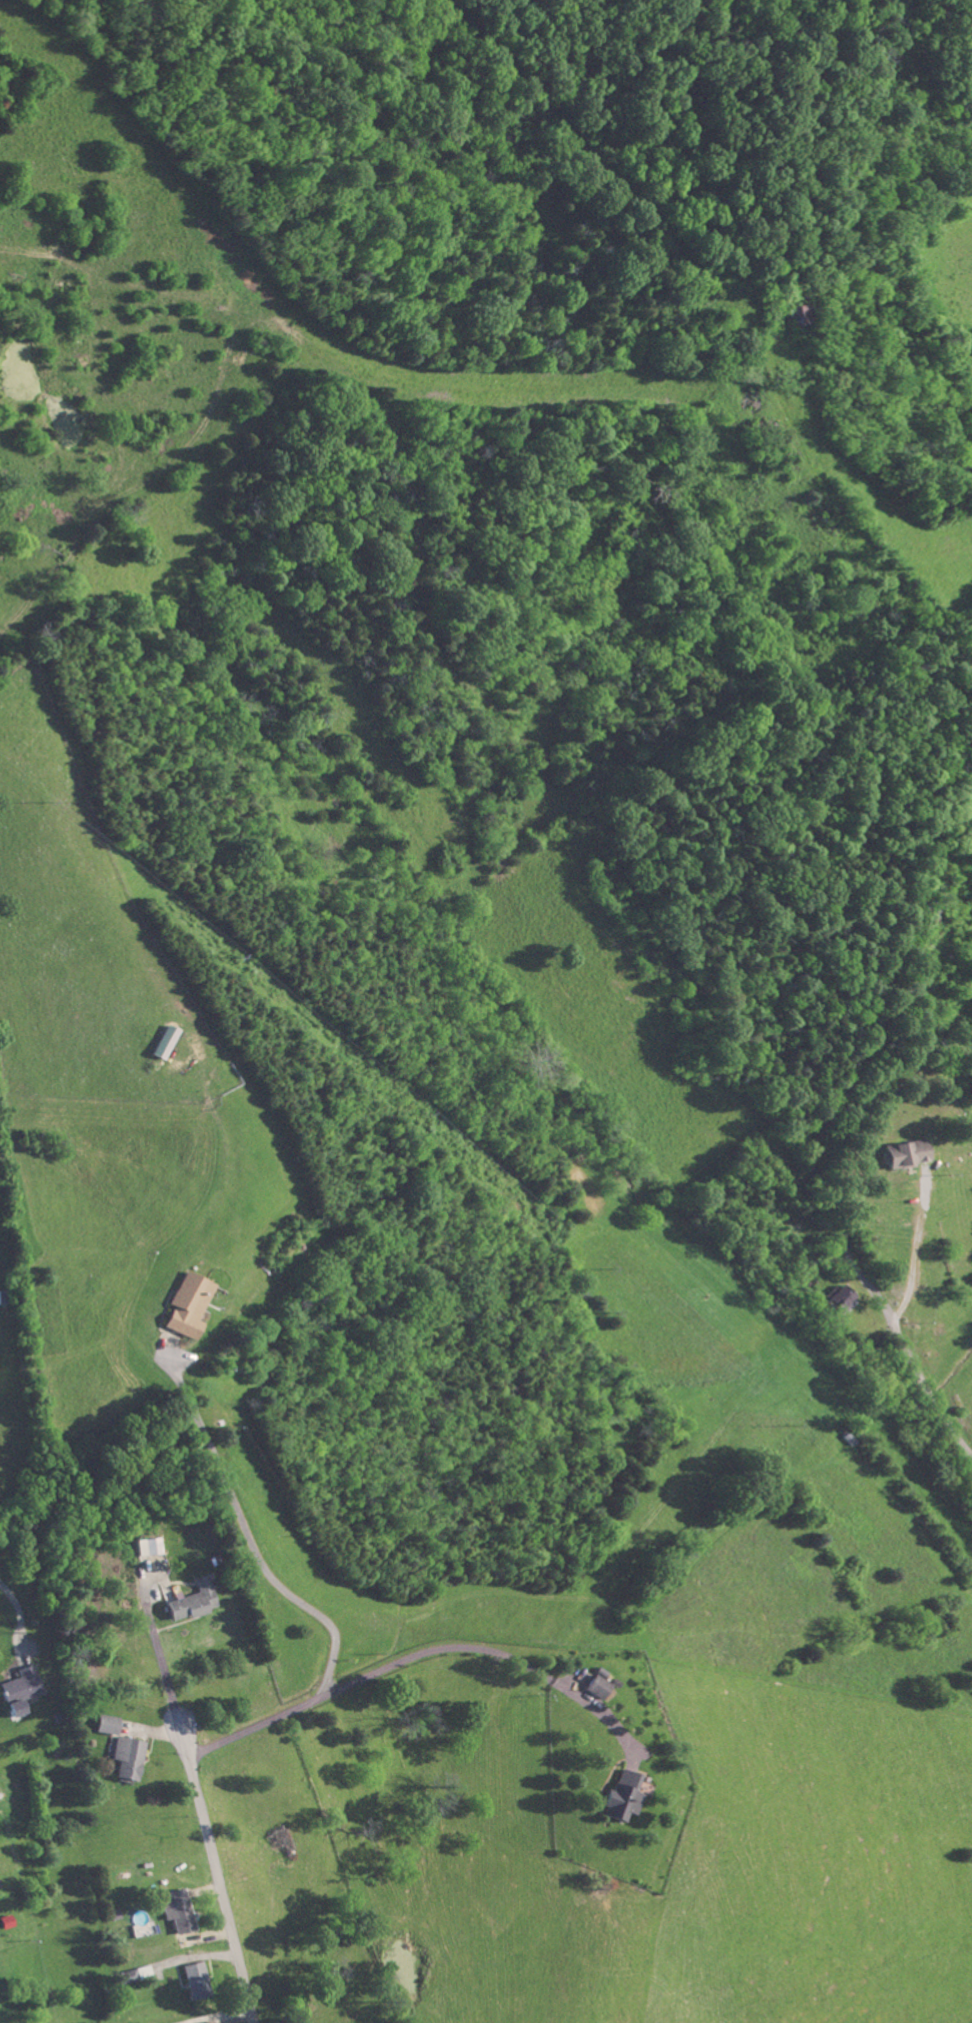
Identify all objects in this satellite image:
road: (281, 490)
building: (161, 1041)
building: (906, 1153)
road: (835, 1224)
building: (185, 1303)
road: (248, 1540)
building: (148, 1545)
building: (190, 1600)
road: (18, 1610)
road: (157, 1647)
road: (412, 1655)
building: (17, 1689)
building: (107, 1723)
building: (127, 1756)
building: (620, 1795)
road: (218, 1869)
building: (178, 1909)
building: (129, 1975)
building: (195, 1979)
building: (208, 2021)

